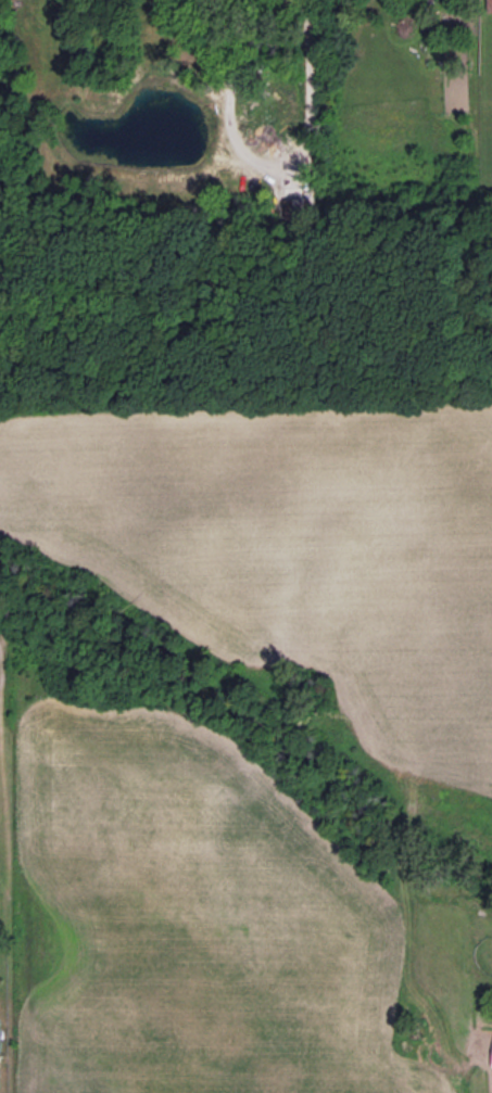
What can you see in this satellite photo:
building: (491, 1063)

